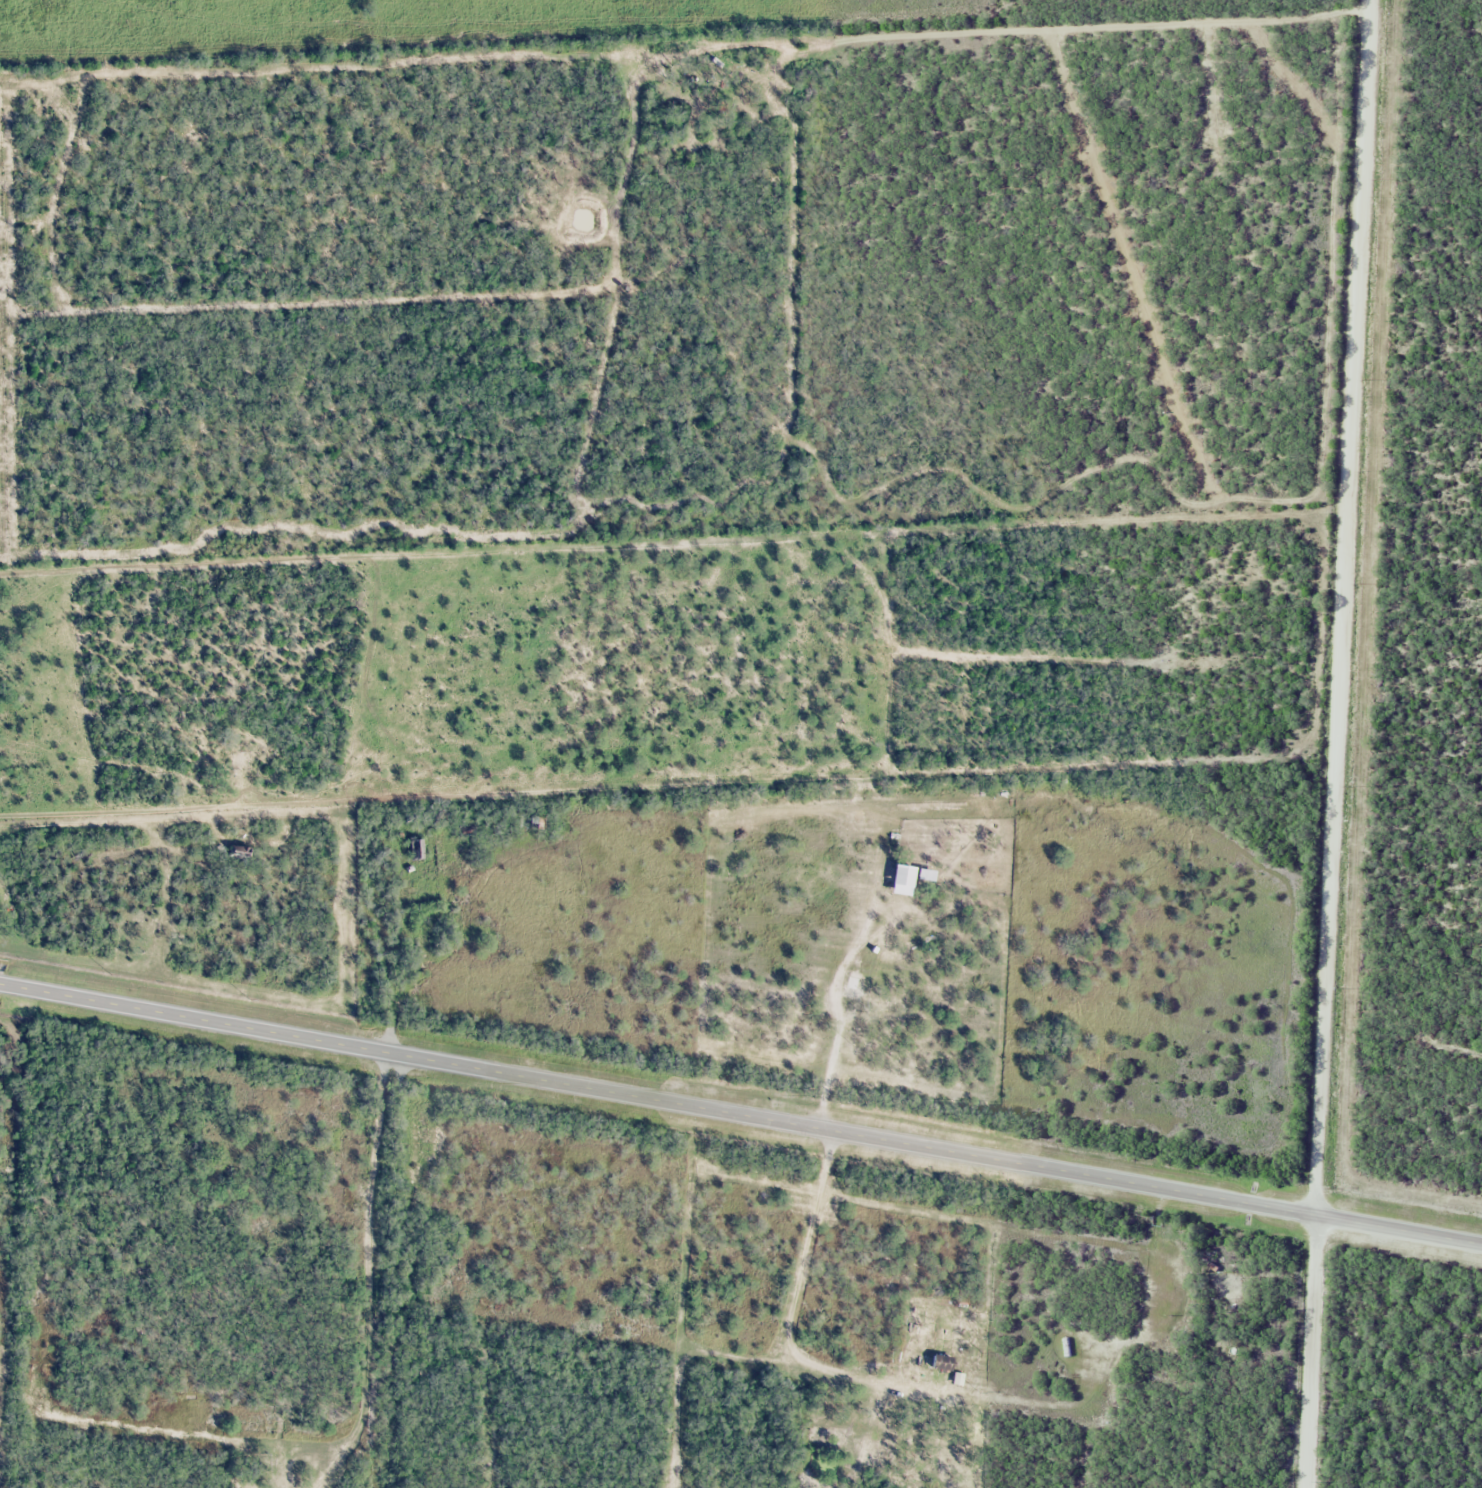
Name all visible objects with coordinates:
road: (1336, 744)
building: (418, 848)
building: (854, 985)
road: (741, 1113)

